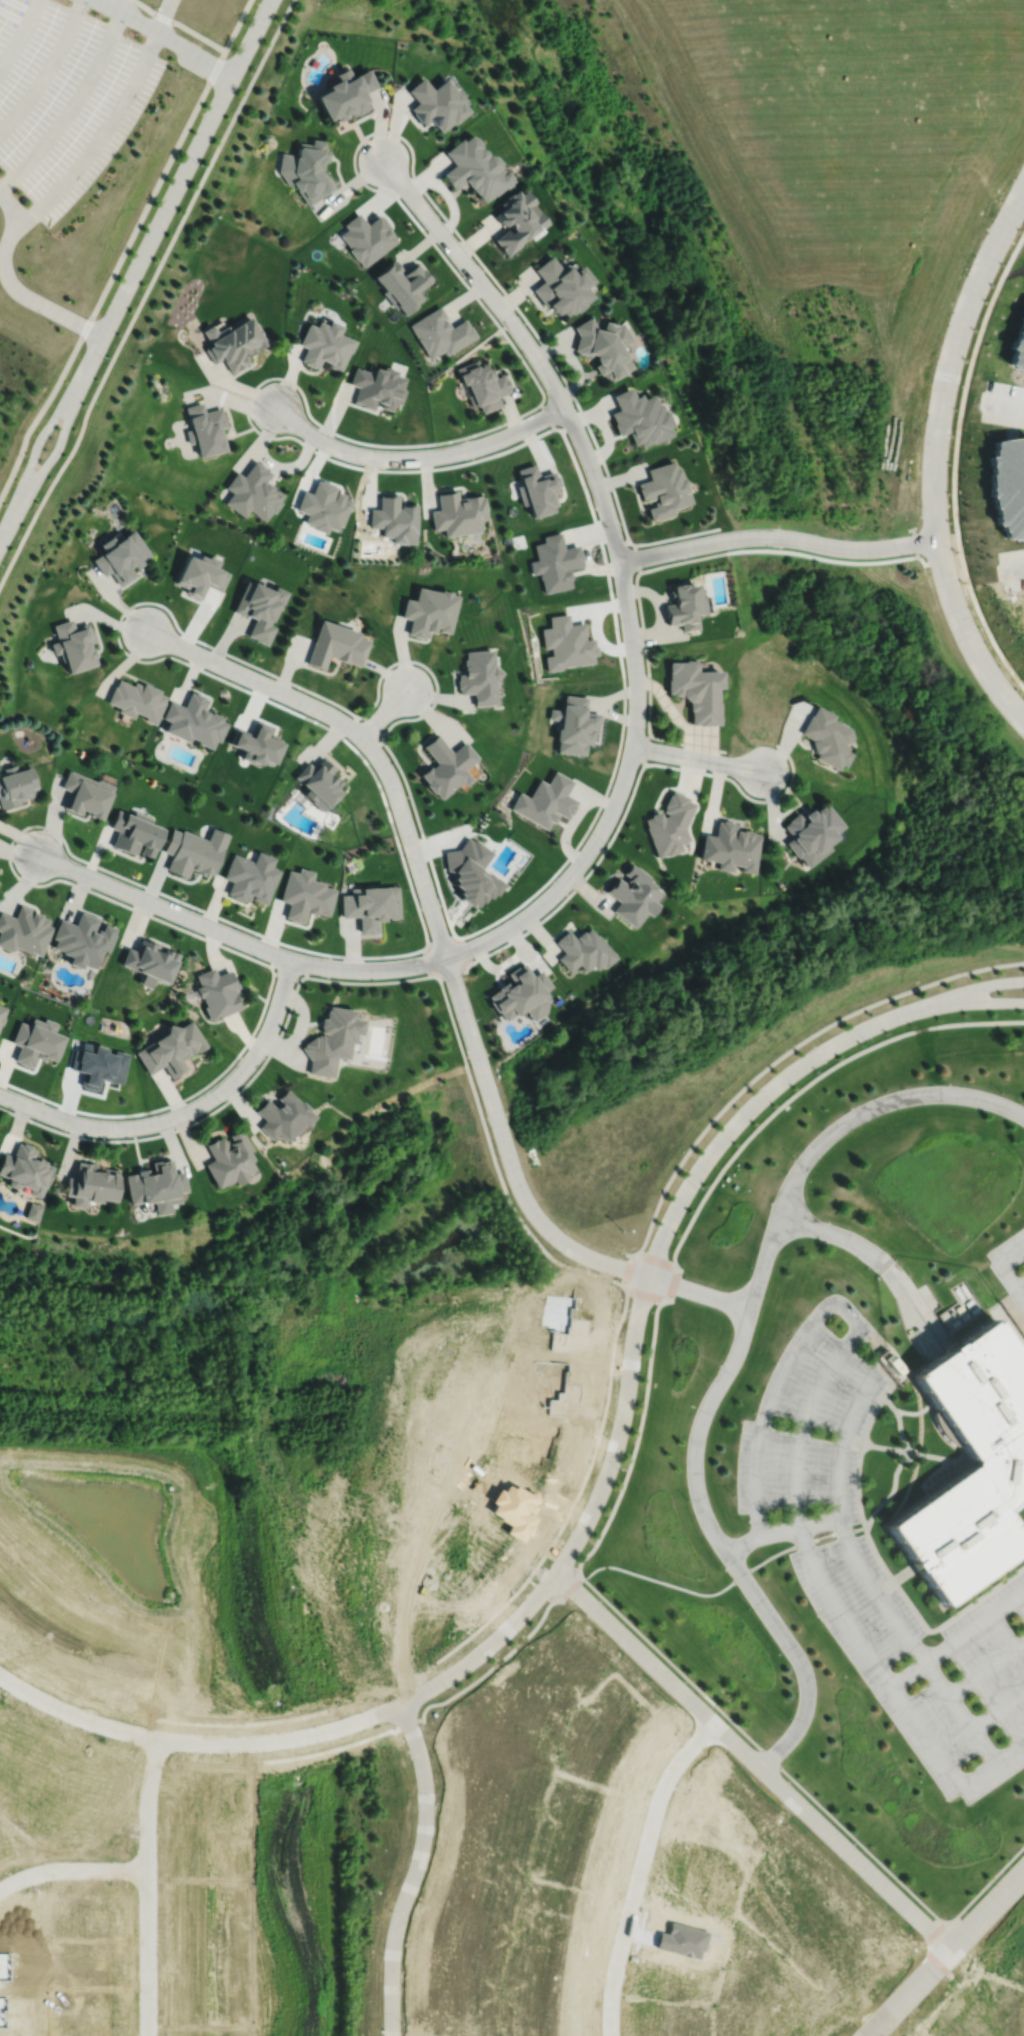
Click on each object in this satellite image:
road: (131, 15)
road: (164, 15)
road: (180, 24)
road: (238, 25)
road: (20, 35)
road: (195, 55)
road: (47, 70)
building: (345, 94)
parking lot: (66, 97)
building: (436, 103)
road: (73, 109)
road: (99, 138)
road: (187, 167)
building: (474, 168)
building: (306, 171)
road: (156, 189)
building: (512, 221)
building: (366, 237)
building: (401, 284)
building: (561, 285)
road: (13, 286)
road: (146, 294)
building: (439, 332)
building: (231, 342)
building: (323, 344)
road: (528, 345)
building: (602, 346)
building: (481, 385)
building: (376, 386)
road: (1005, 404)
road: (40, 411)
building: (638, 417)
road: (49, 424)
building: (205, 429)
road: (64, 432)
road: (418, 456)
road: (935, 459)
road: (954, 460)
building: (535, 489)
building: (662, 490)
building: (251, 492)
building: (323, 506)
building: (457, 513)
building: (394, 519)
road: (4, 530)
road: (778, 537)
building: (119, 555)
building: (553, 561)
road: (1013, 569)
building: (198, 574)
building: (684, 606)
building: (257, 607)
building: (429, 611)
building: (566, 643)
building: (72, 644)
building: (335, 645)
building: (478, 677)
building: (695, 689)
building: (135, 700)
road: (383, 713)
building: (192, 720)
building: (573, 724)
road: (359, 736)
building: (826, 737)
building: (256, 744)
road: (697, 759)
building: (445, 766)
building: (317, 783)
building: (15, 785)
building: (85, 793)
road: (617, 798)
building: (545, 800)
building: (668, 824)
building: (134, 832)
building: (809, 832)
building: (729, 847)
building: (193, 851)
building: (470, 871)
building: (250, 877)
building: (631, 894)
building: (304, 895)
building: (370, 905)
road: (164, 908)
building: (23, 930)
building: (81, 939)
building: (582, 950)
building: (148, 962)
road: (369, 970)
building: (216, 991)
building: (519, 993)
road: (939, 996)
road: (940, 1007)
building: (1, 1012)
building: (330, 1039)
building: (35, 1041)
building: (170, 1048)
road: (788, 1052)
building: (97, 1066)
road: (807, 1084)
road: (877, 1106)
road: (187, 1114)
building: (282, 1115)
road: (729, 1131)
road: (507, 1150)
building: (228, 1158)
building: (24, 1169)
building: (90, 1184)
building: (155, 1185)
road: (511, 1203)
building: (31, 1210)
road: (1012, 1257)
road: (881, 1259)
road: (766, 1262)
parking lot: (1009, 1274)
road: (1012, 1282)
road: (625, 1288)
road: (701, 1292)
road: (1003, 1300)
road: (823, 1310)
road: (245, 1388)
road: (117, 1397)
road: (806, 1418)
road: (763, 1419)
road: (899, 1422)
parking lot: (812, 1429)
road: (842, 1439)
road: (597, 1440)
road: (853, 1441)
road: (636, 1445)
road: (886, 1448)
road: (862, 1451)
road: (941, 1457)
building: (973, 1468)
road: (399, 1485)
road: (892, 1492)
road: (585, 1526)
road: (782, 1530)
road: (724, 1548)
road: (878, 1555)
road: (562, 1560)
road: (906, 1574)
road: (350, 1580)
road: (726, 1587)
road: (886, 1587)
road: (572, 1588)
road: (542, 1589)
road: (877, 1594)
building: (15, 1595)
road: (953, 1617)
road: (974, 1628)
road: (454, 1649)
road: (874, 1660)
road: (496, 1664)
parking lot: (929, 1665)
road: (677, 1668)
road: (987, 1670)
road: (909, 1674)
road: (949, 1695)
road: (998, 1711)
road: (197, 1742)
road: (984, 1746)
road: (754, 1761)
road: (993, 1763)
road: (858, 1841)
road: (71, 1868)
road: (416, 1869)
road: (640, 1870)
road: (986, 1885)
road: (146, 1887)
road: (935, 1934)
road: (946, 1954)
road: (937, 1961)

